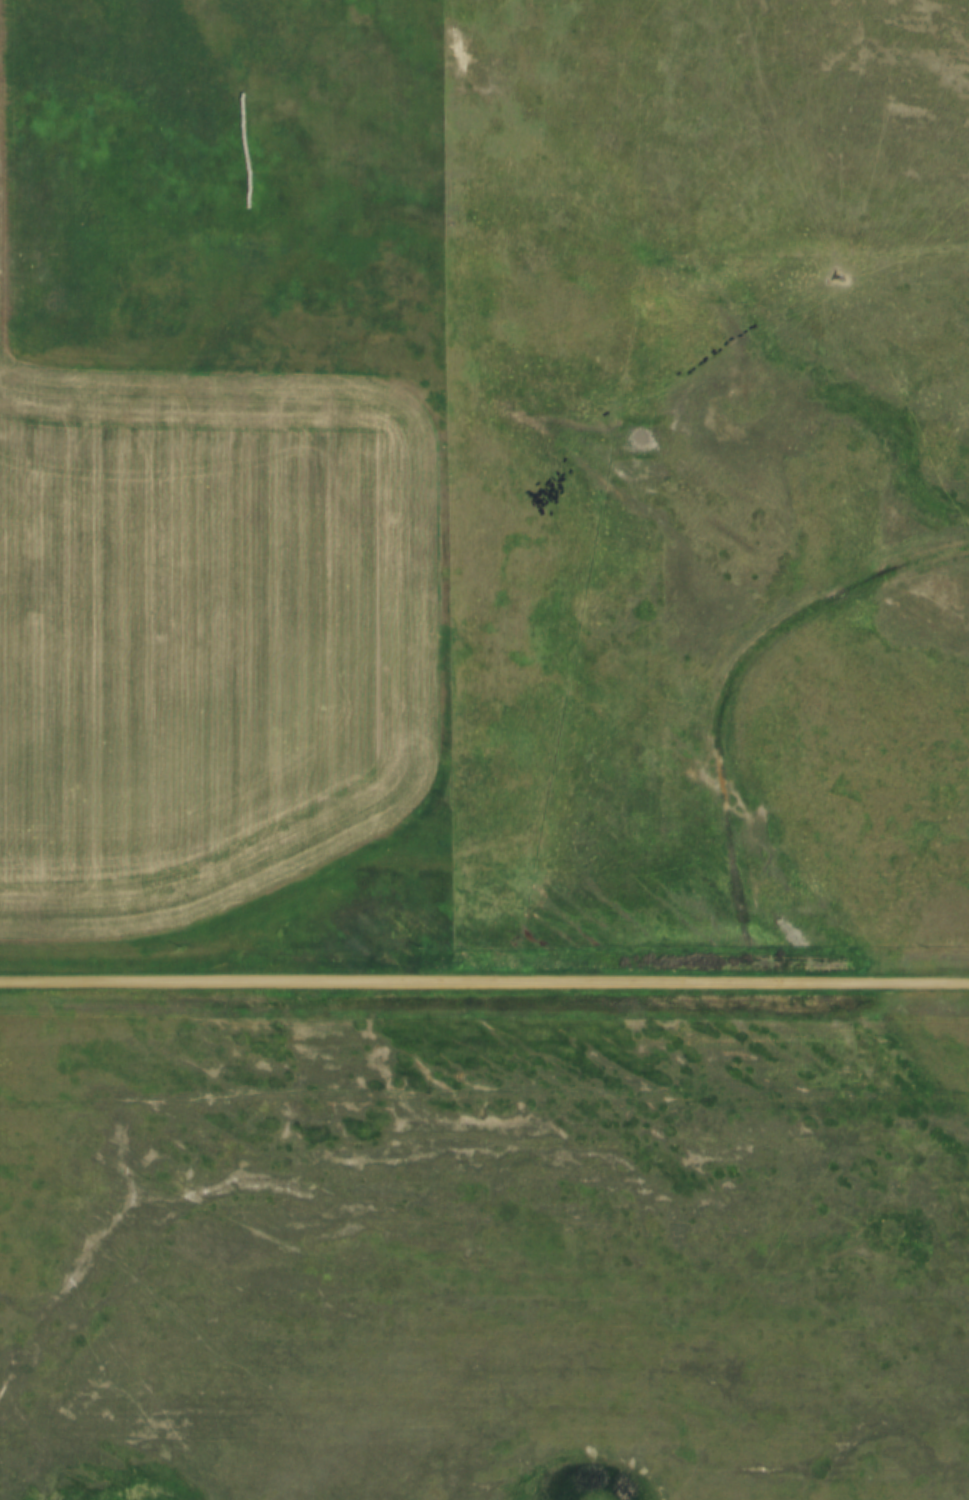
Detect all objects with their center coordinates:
road: (484, 986)

